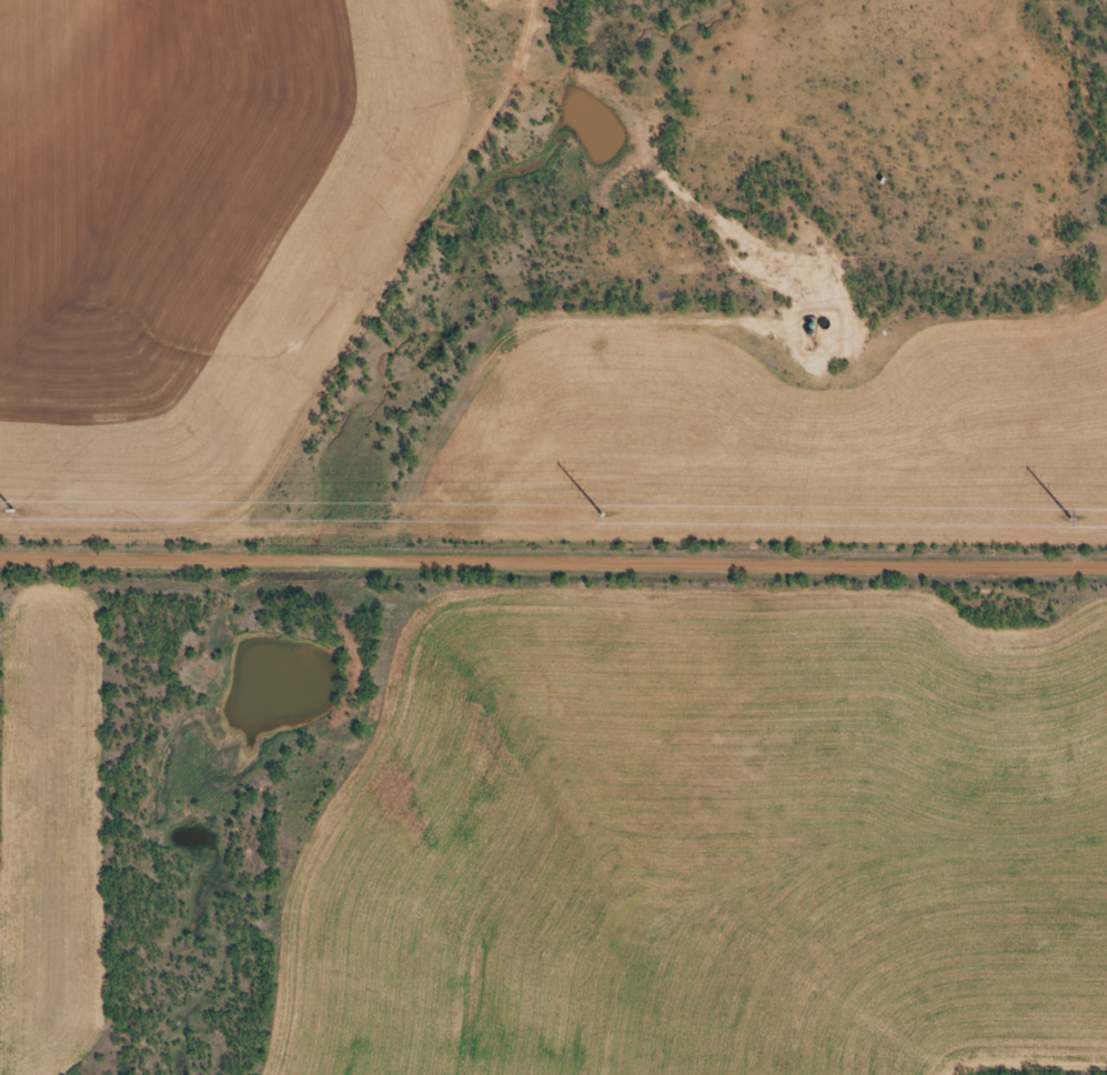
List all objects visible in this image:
power tower: (11, 511)
power tower: (601, 514)
power tower: (1070, 518)
road: (553, 553)

